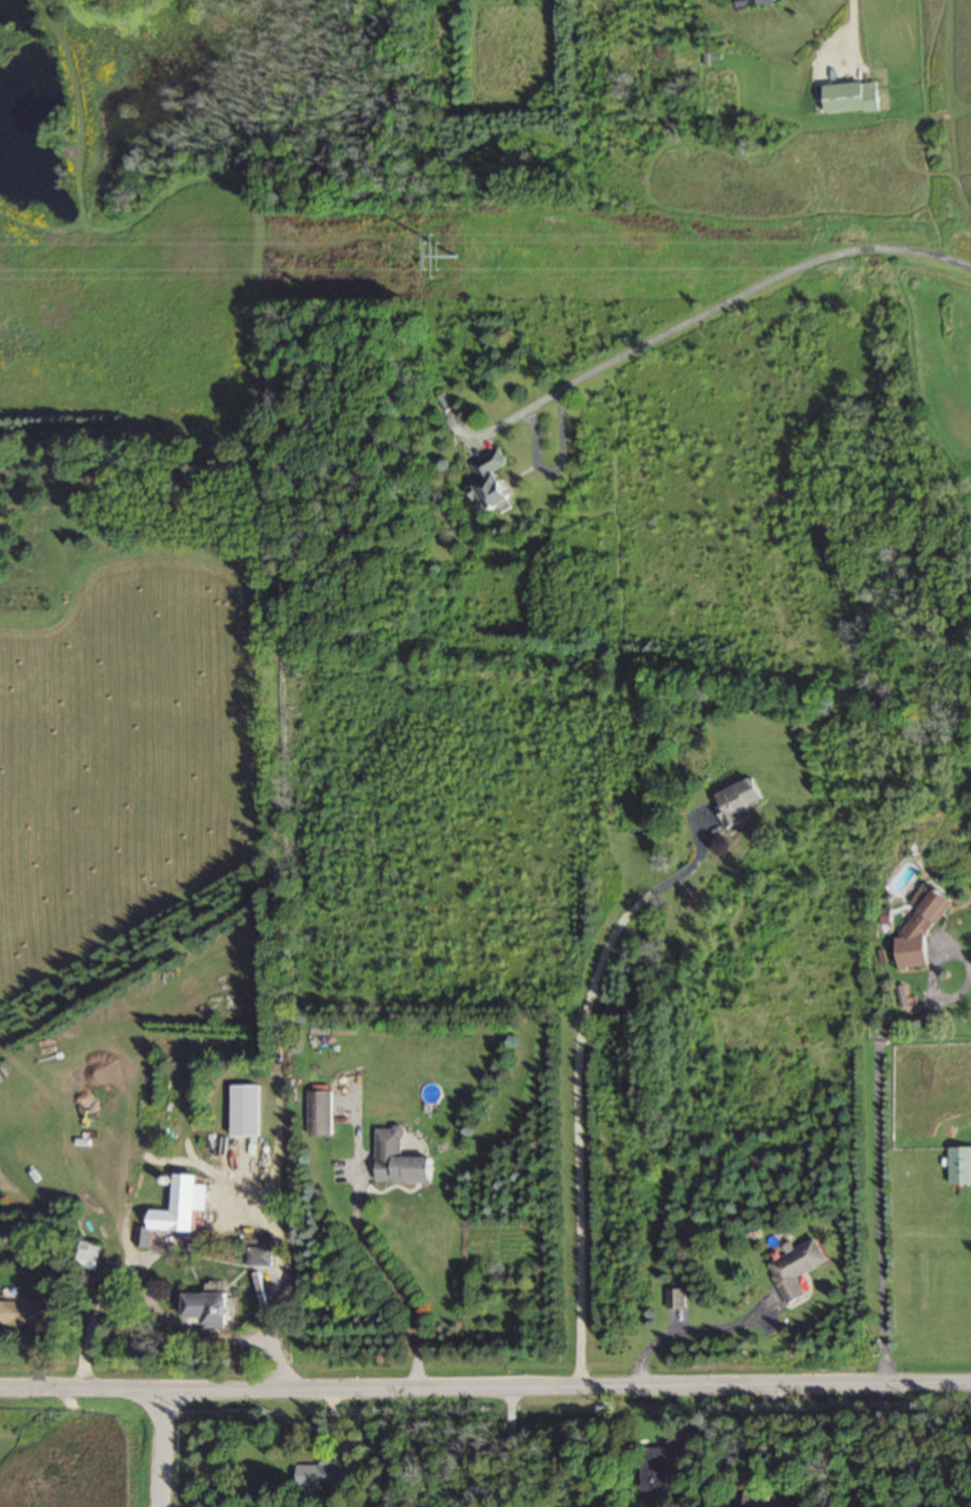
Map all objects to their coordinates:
building: (757, 4)
road: (854, 27)
building: (853, 99)
power tower: (477, 266)
road: (758, 288)
road: (541, 468)
building: (491, 480)
building: (738, 803)
building: (922, 928)
road: (578, 1081)
building: (247, 1113)
building: (321, 1114)
building: (400, 1161)
road: (878, 1162)
building: (960, 1167)
building: (176, 1213)
building: (91, 1257)
building: (260, 1258)
building: (797, 1271)
road: (392, 1280)
building: (676, 1301)
road: (154, 1304)
building: (210, 1310)
building: (22, 1313)
road: (687, 1331)
road: (485, 1388)
road: (878, 1445)
road: (511, 1447)
road: (160, 1449)
building: (657, 1471)
building: (325, 1474)
building: (772, 1500)

